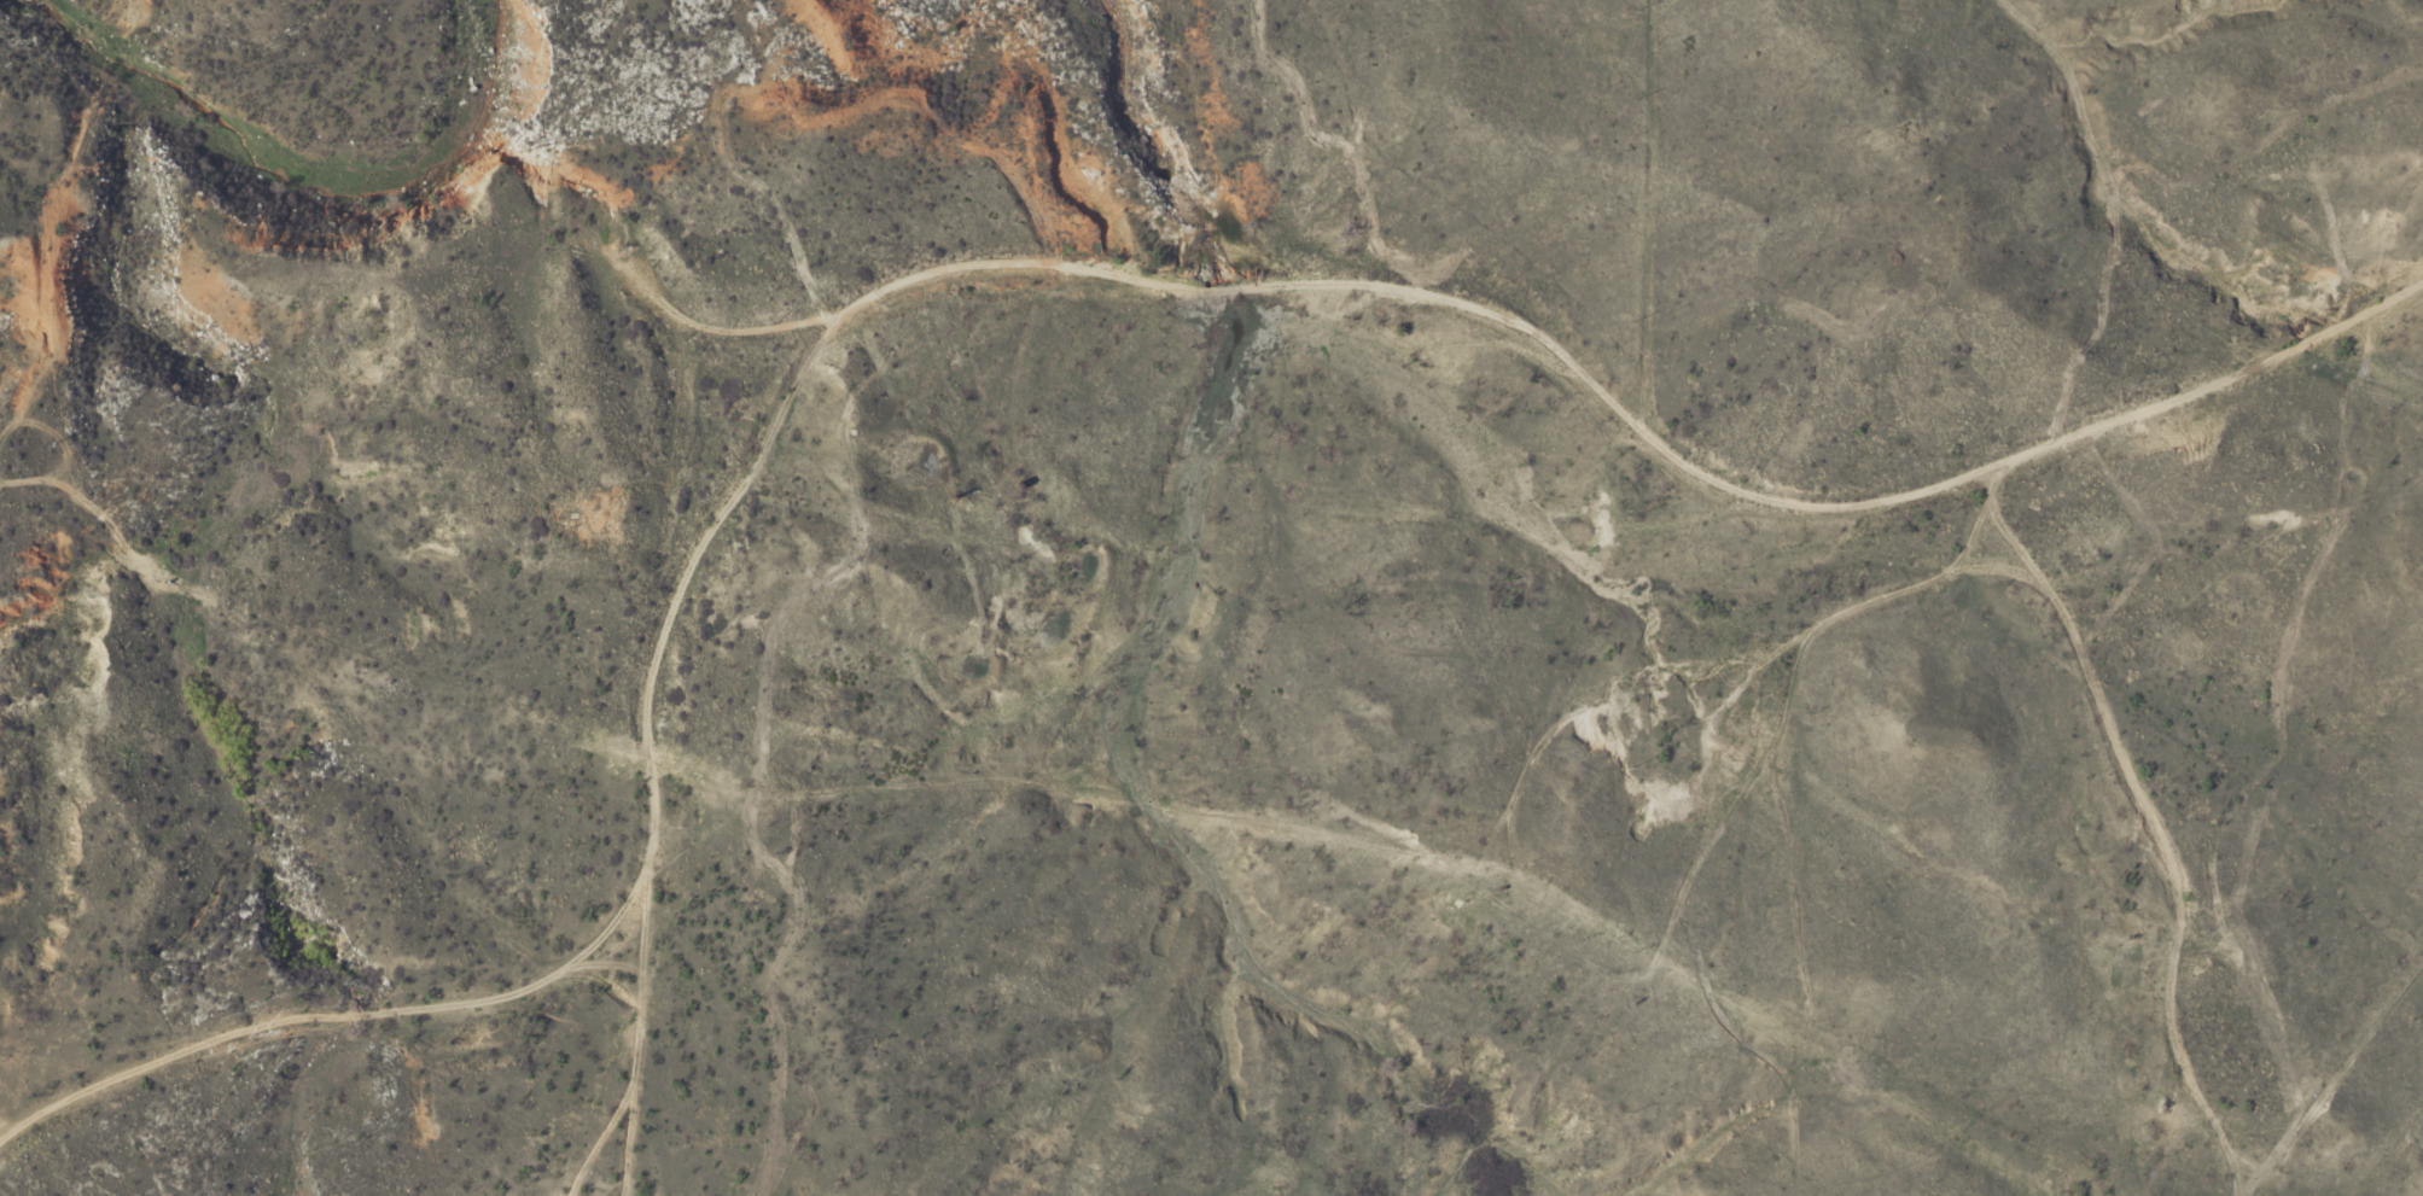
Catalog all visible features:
road: (1639, 217)
road: (837, 355)
road: (2112, 736)

